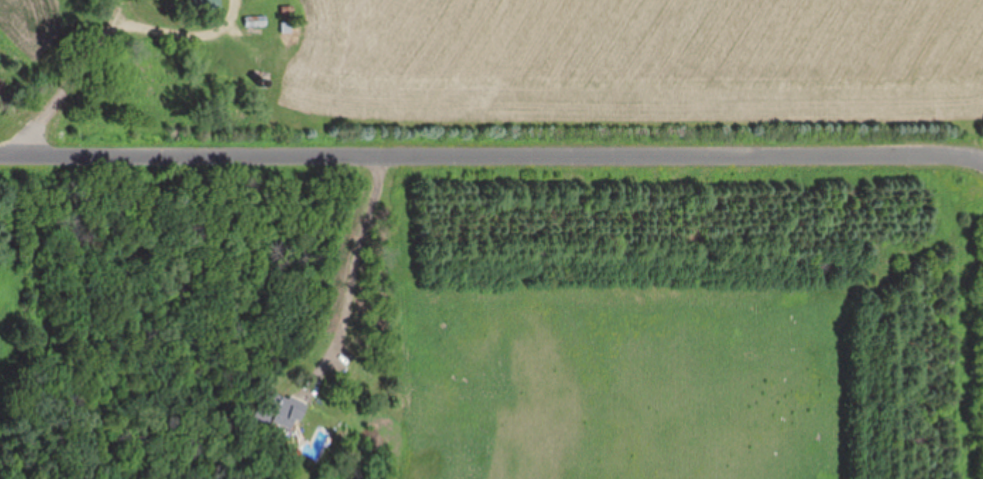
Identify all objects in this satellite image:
building: (207, 2)
road: (232, 4)
road: (106, 42)
road: (493, 154)
road: (359, 272)
building: (284, 412)

